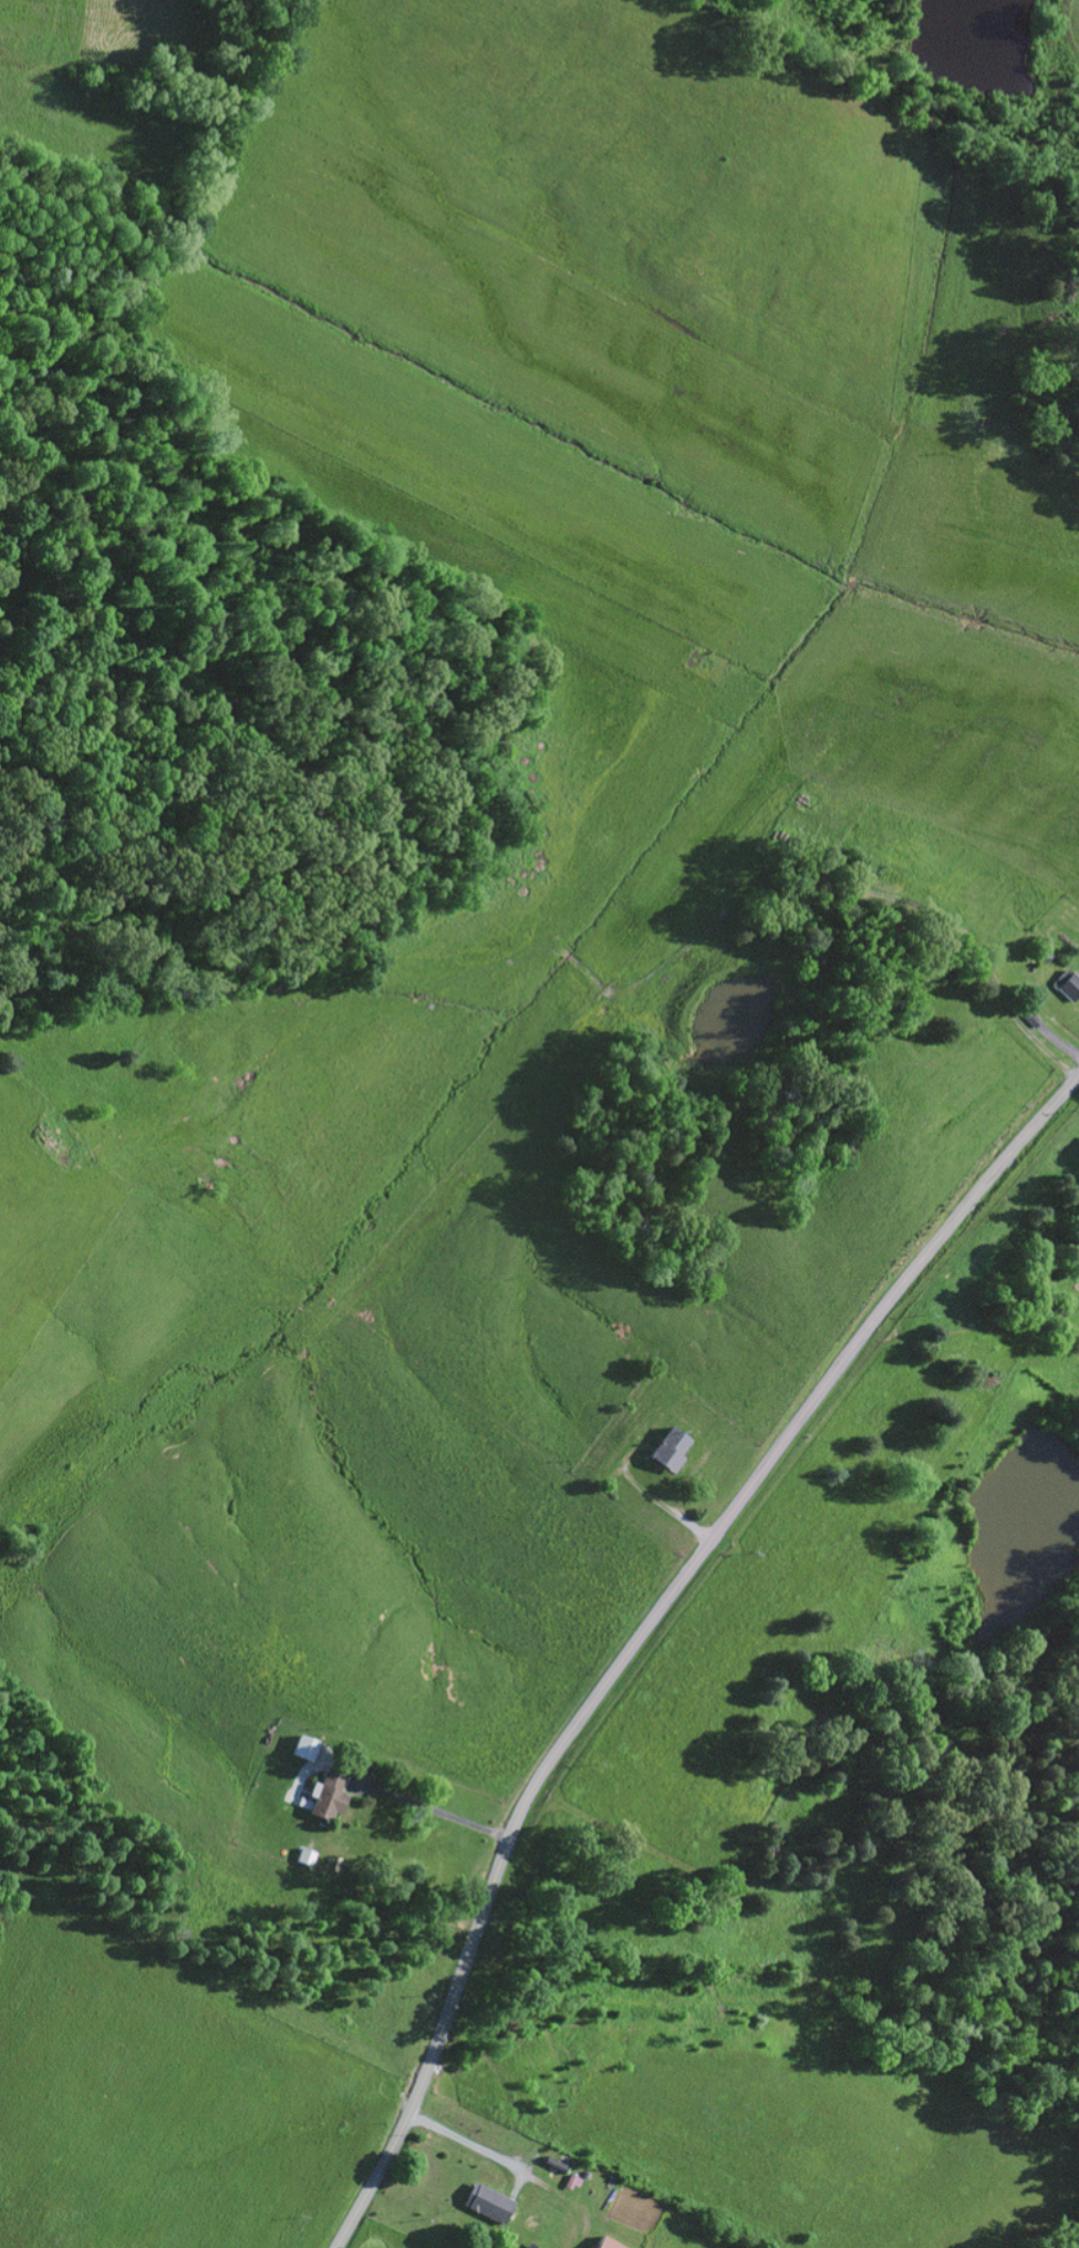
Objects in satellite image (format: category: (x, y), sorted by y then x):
building: (893, 870)
road: (776, 886)
building: (1040, 950)
building: (1069, 984)
building: (1028, 1014)
road: (1058, 1041)
building: (668, 1447)
road: (663, 1504)
road: (645, 1623)
building: (303, 1745)
building: (331, 1775)
building: (325, 1800)
road: (429, 1807)
building: (302, 1856)
road: (464, 2138)
building: (552, 2170)
building: (569, 2178)
building: (487, 2200)
building: (606, 2242)

